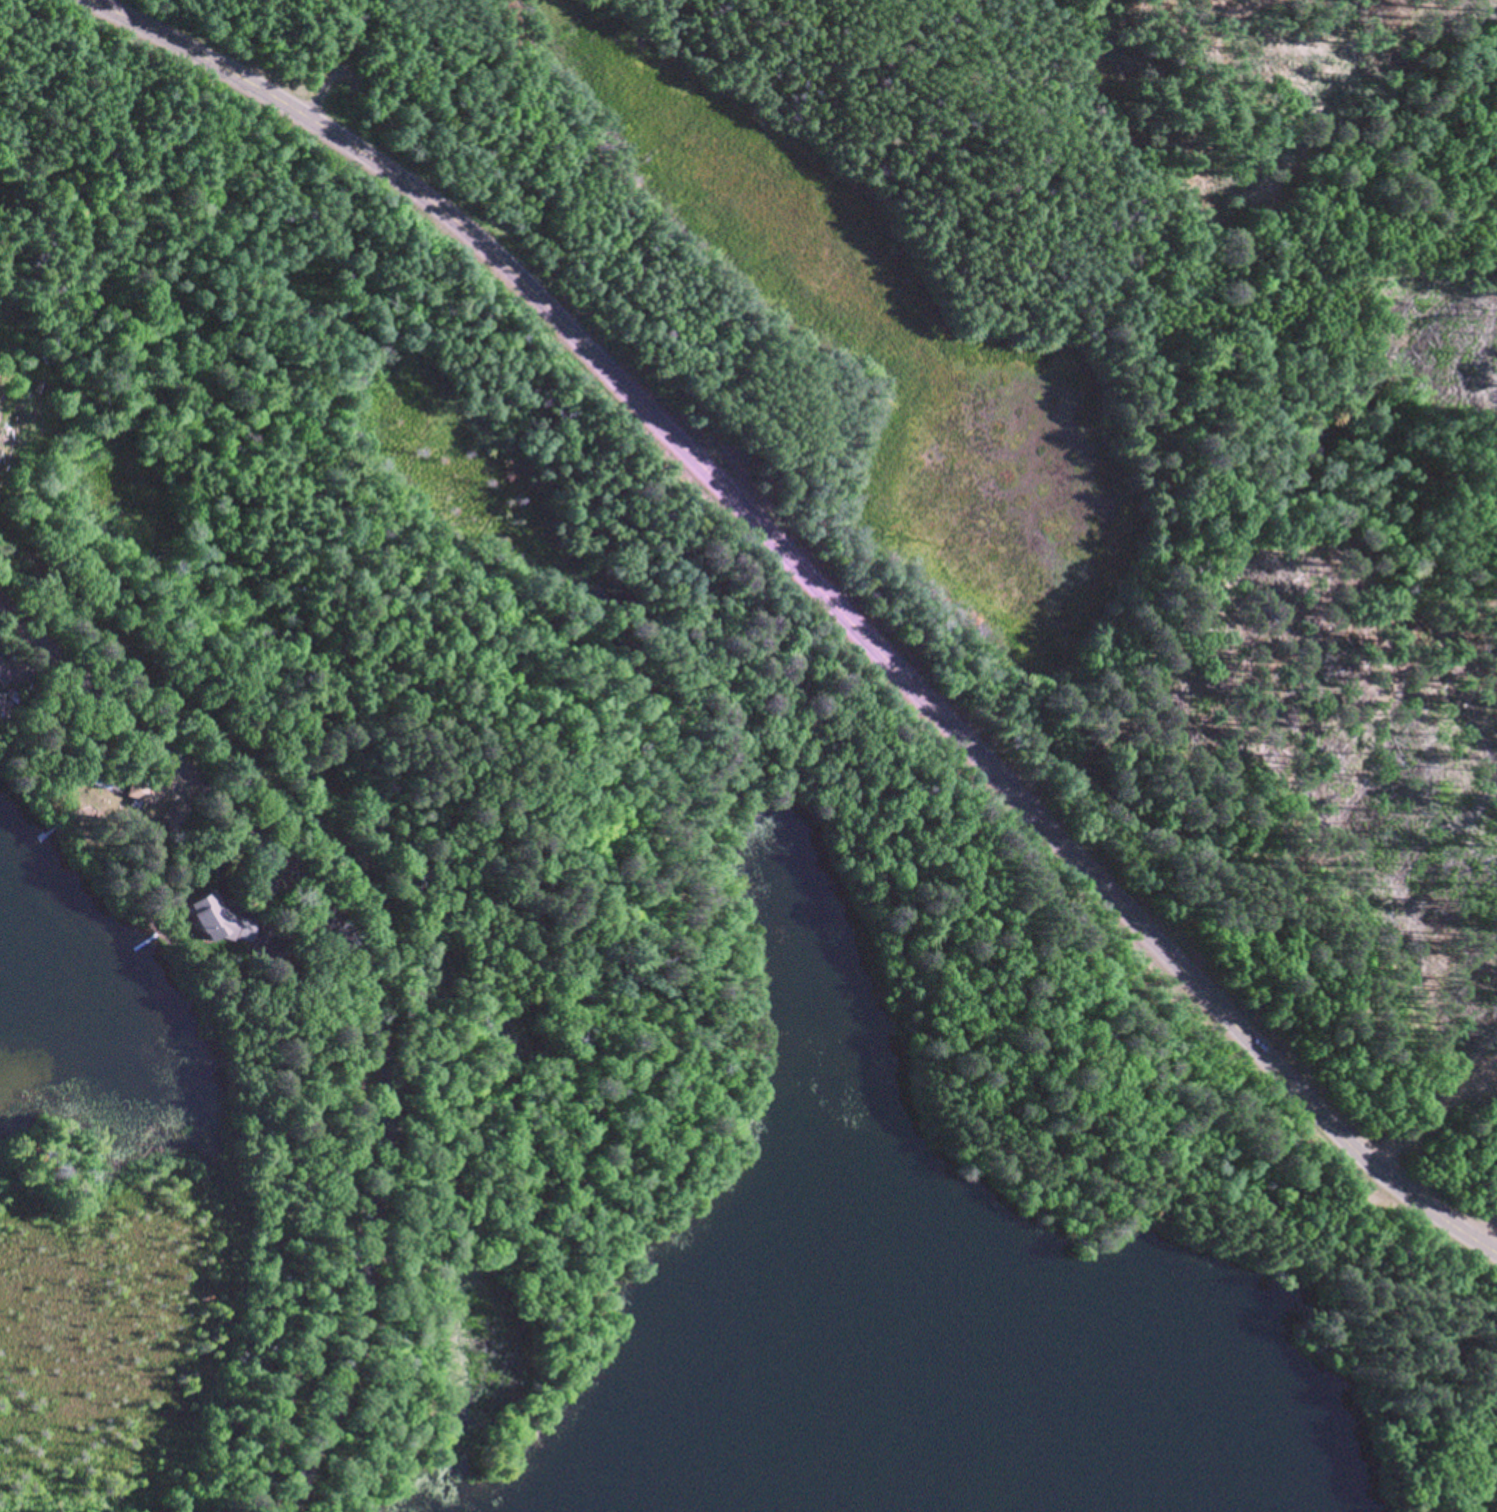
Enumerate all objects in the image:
road: (146, 27)
road: (862, 637)
building: (1, 700)
building: (96, 777)
building: (143, 787)
building: (173, 813)
building: (263, 888)
building: (221, 918)
building: (285, 966)
road: (381, 974)

